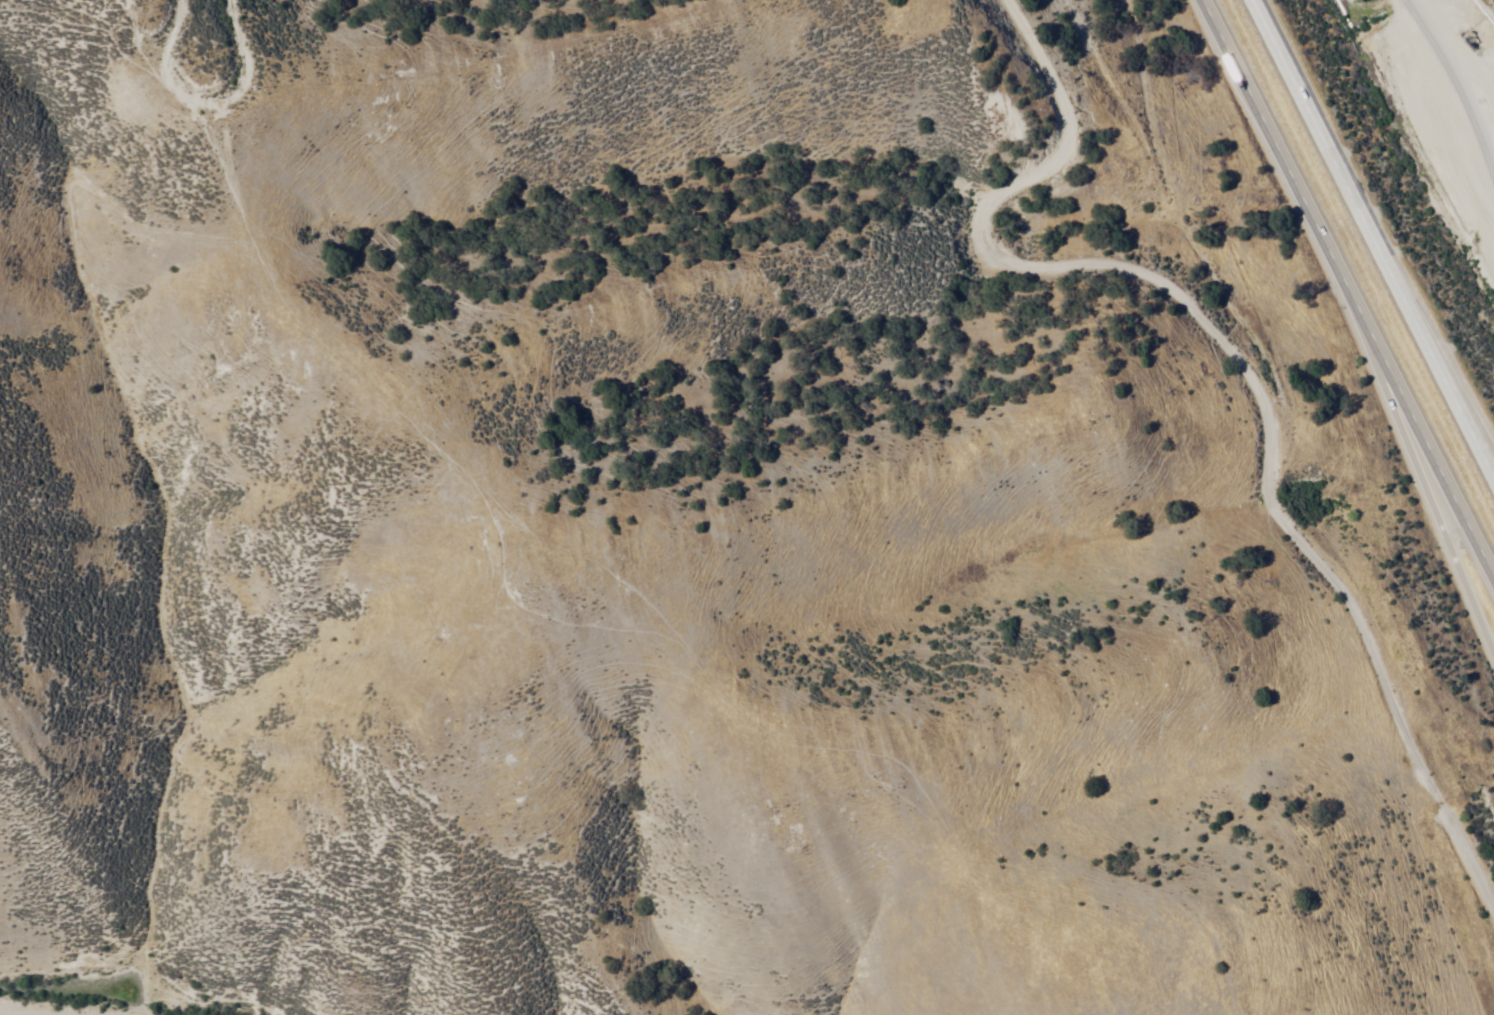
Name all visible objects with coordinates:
road: (1456, 87)
road: (216, 108)
road: (1373, 242)
road: (1343, 288)
road: (1244, 374)
road: (1468, 419)
road: (1433, 504)
road: (30, 1008)

